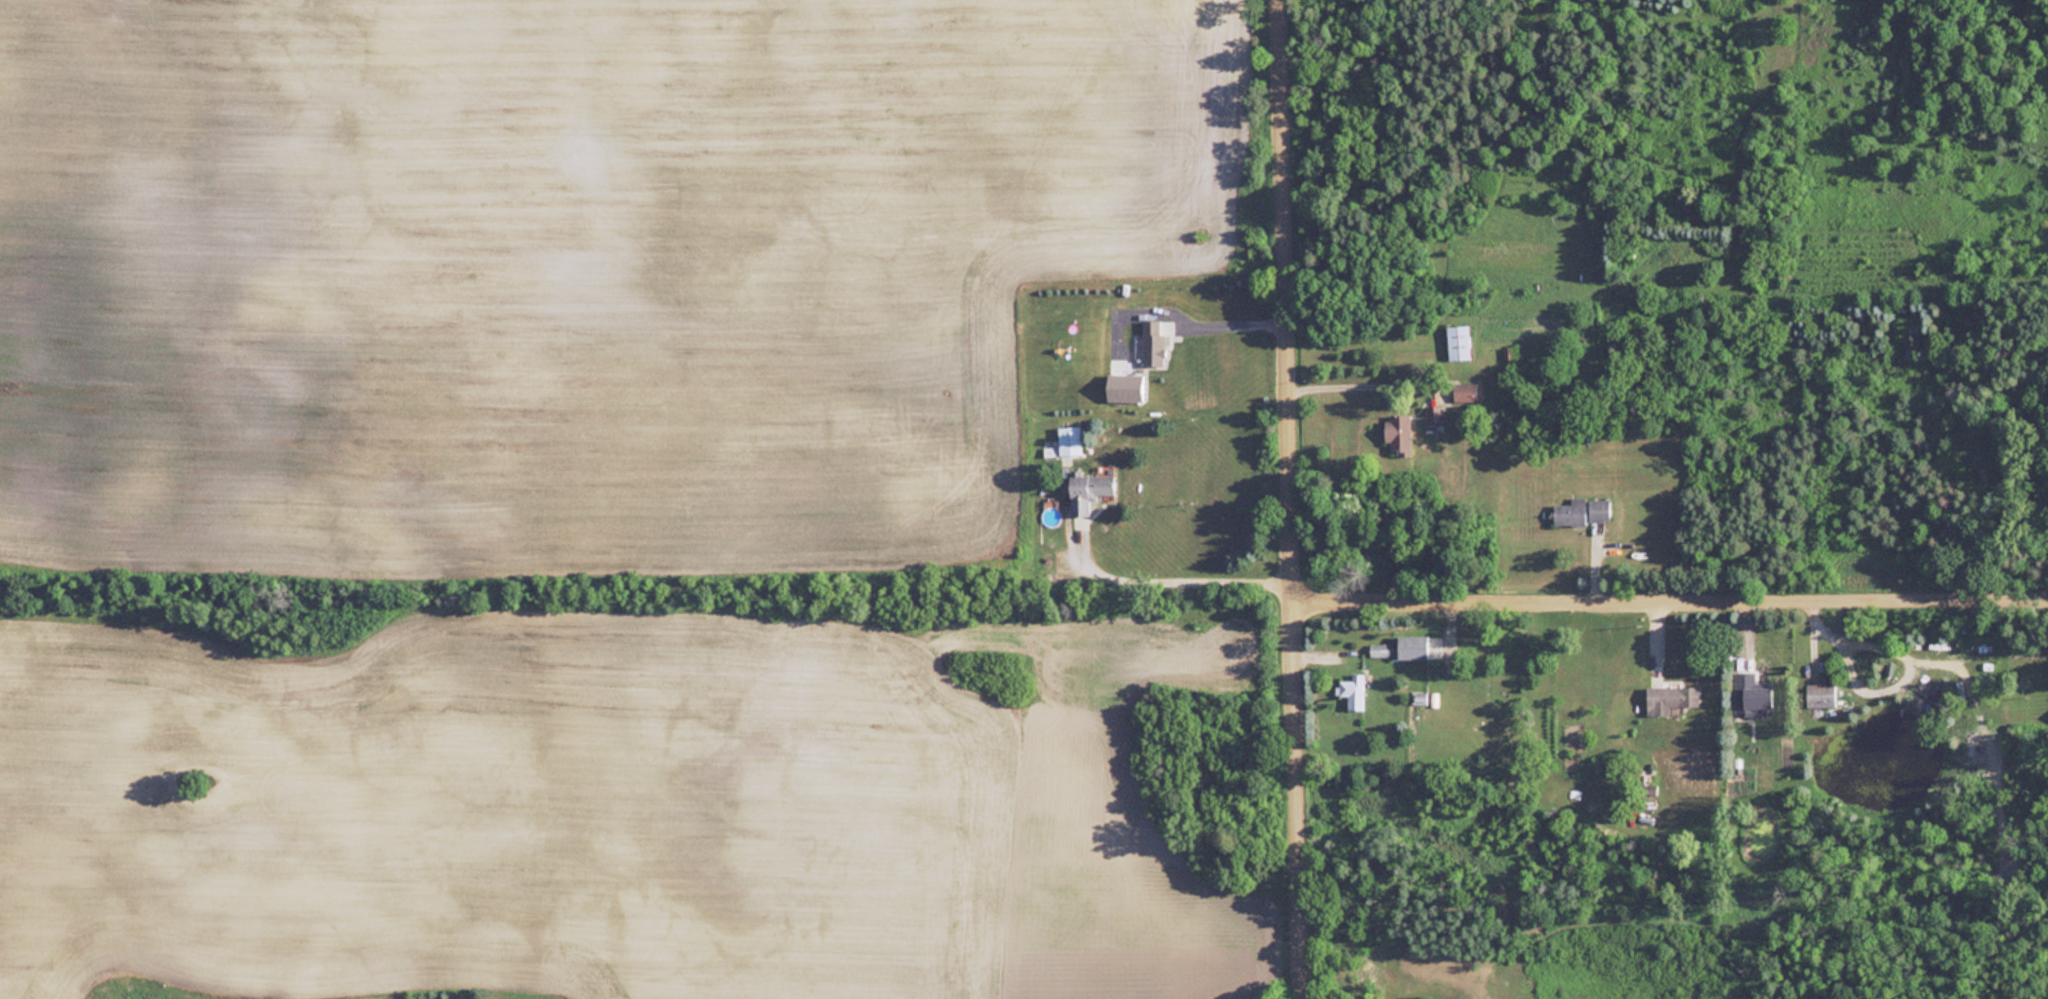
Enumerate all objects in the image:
building: (1152, 342)
building: (1458, 342)
building: (1464, 391)
building: (1434, 413)
building: (1399, 432)
building: (1088, 489)
road: (1292, 499)
building: (1598, 509)
building: (1569, 512)
road: (1563, 589)
building: (1412, 646)
building: (1352, 691)
building: (1820, 694)
building: (1670, 698)
building: (1757, 698)

